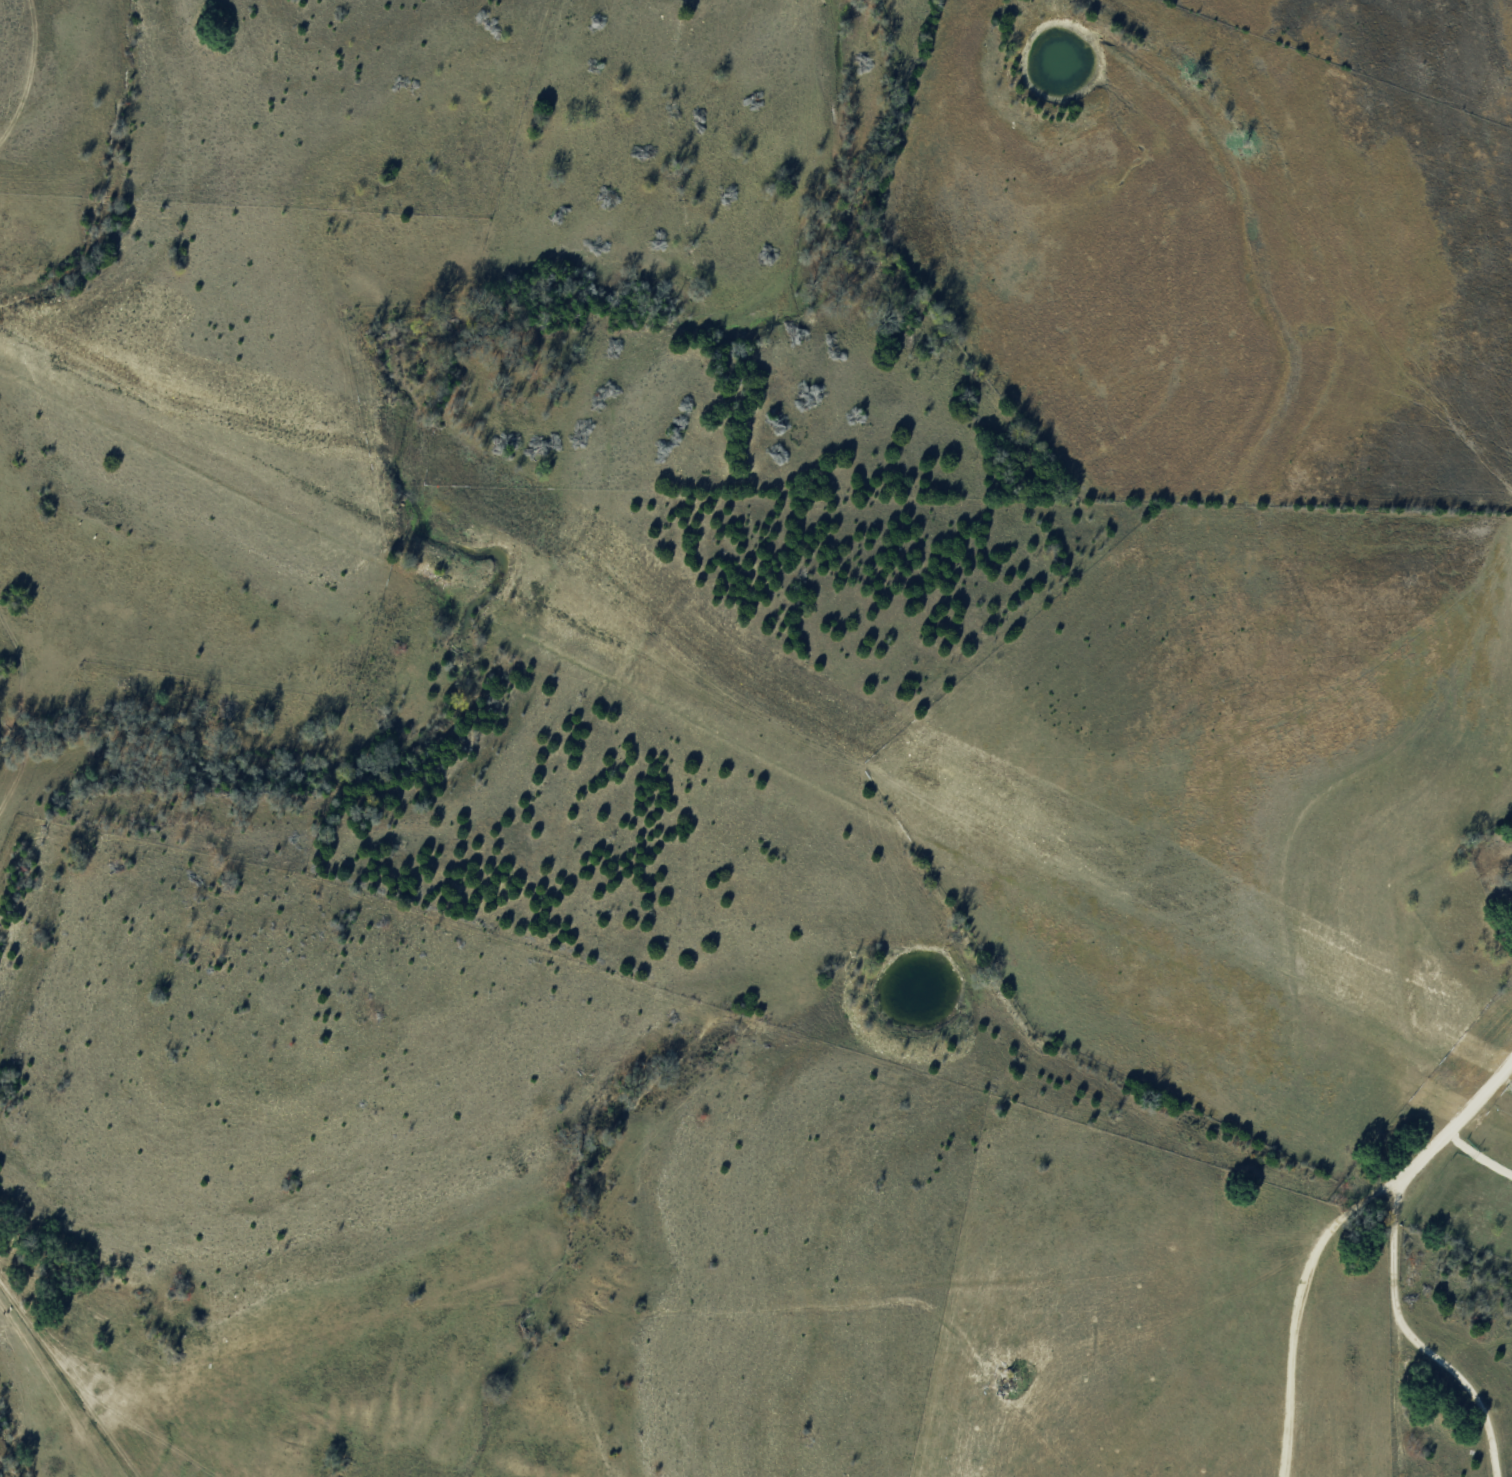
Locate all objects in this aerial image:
road: (1494, 745)
road: (1389, 1107)
road: (1392, 1290)

